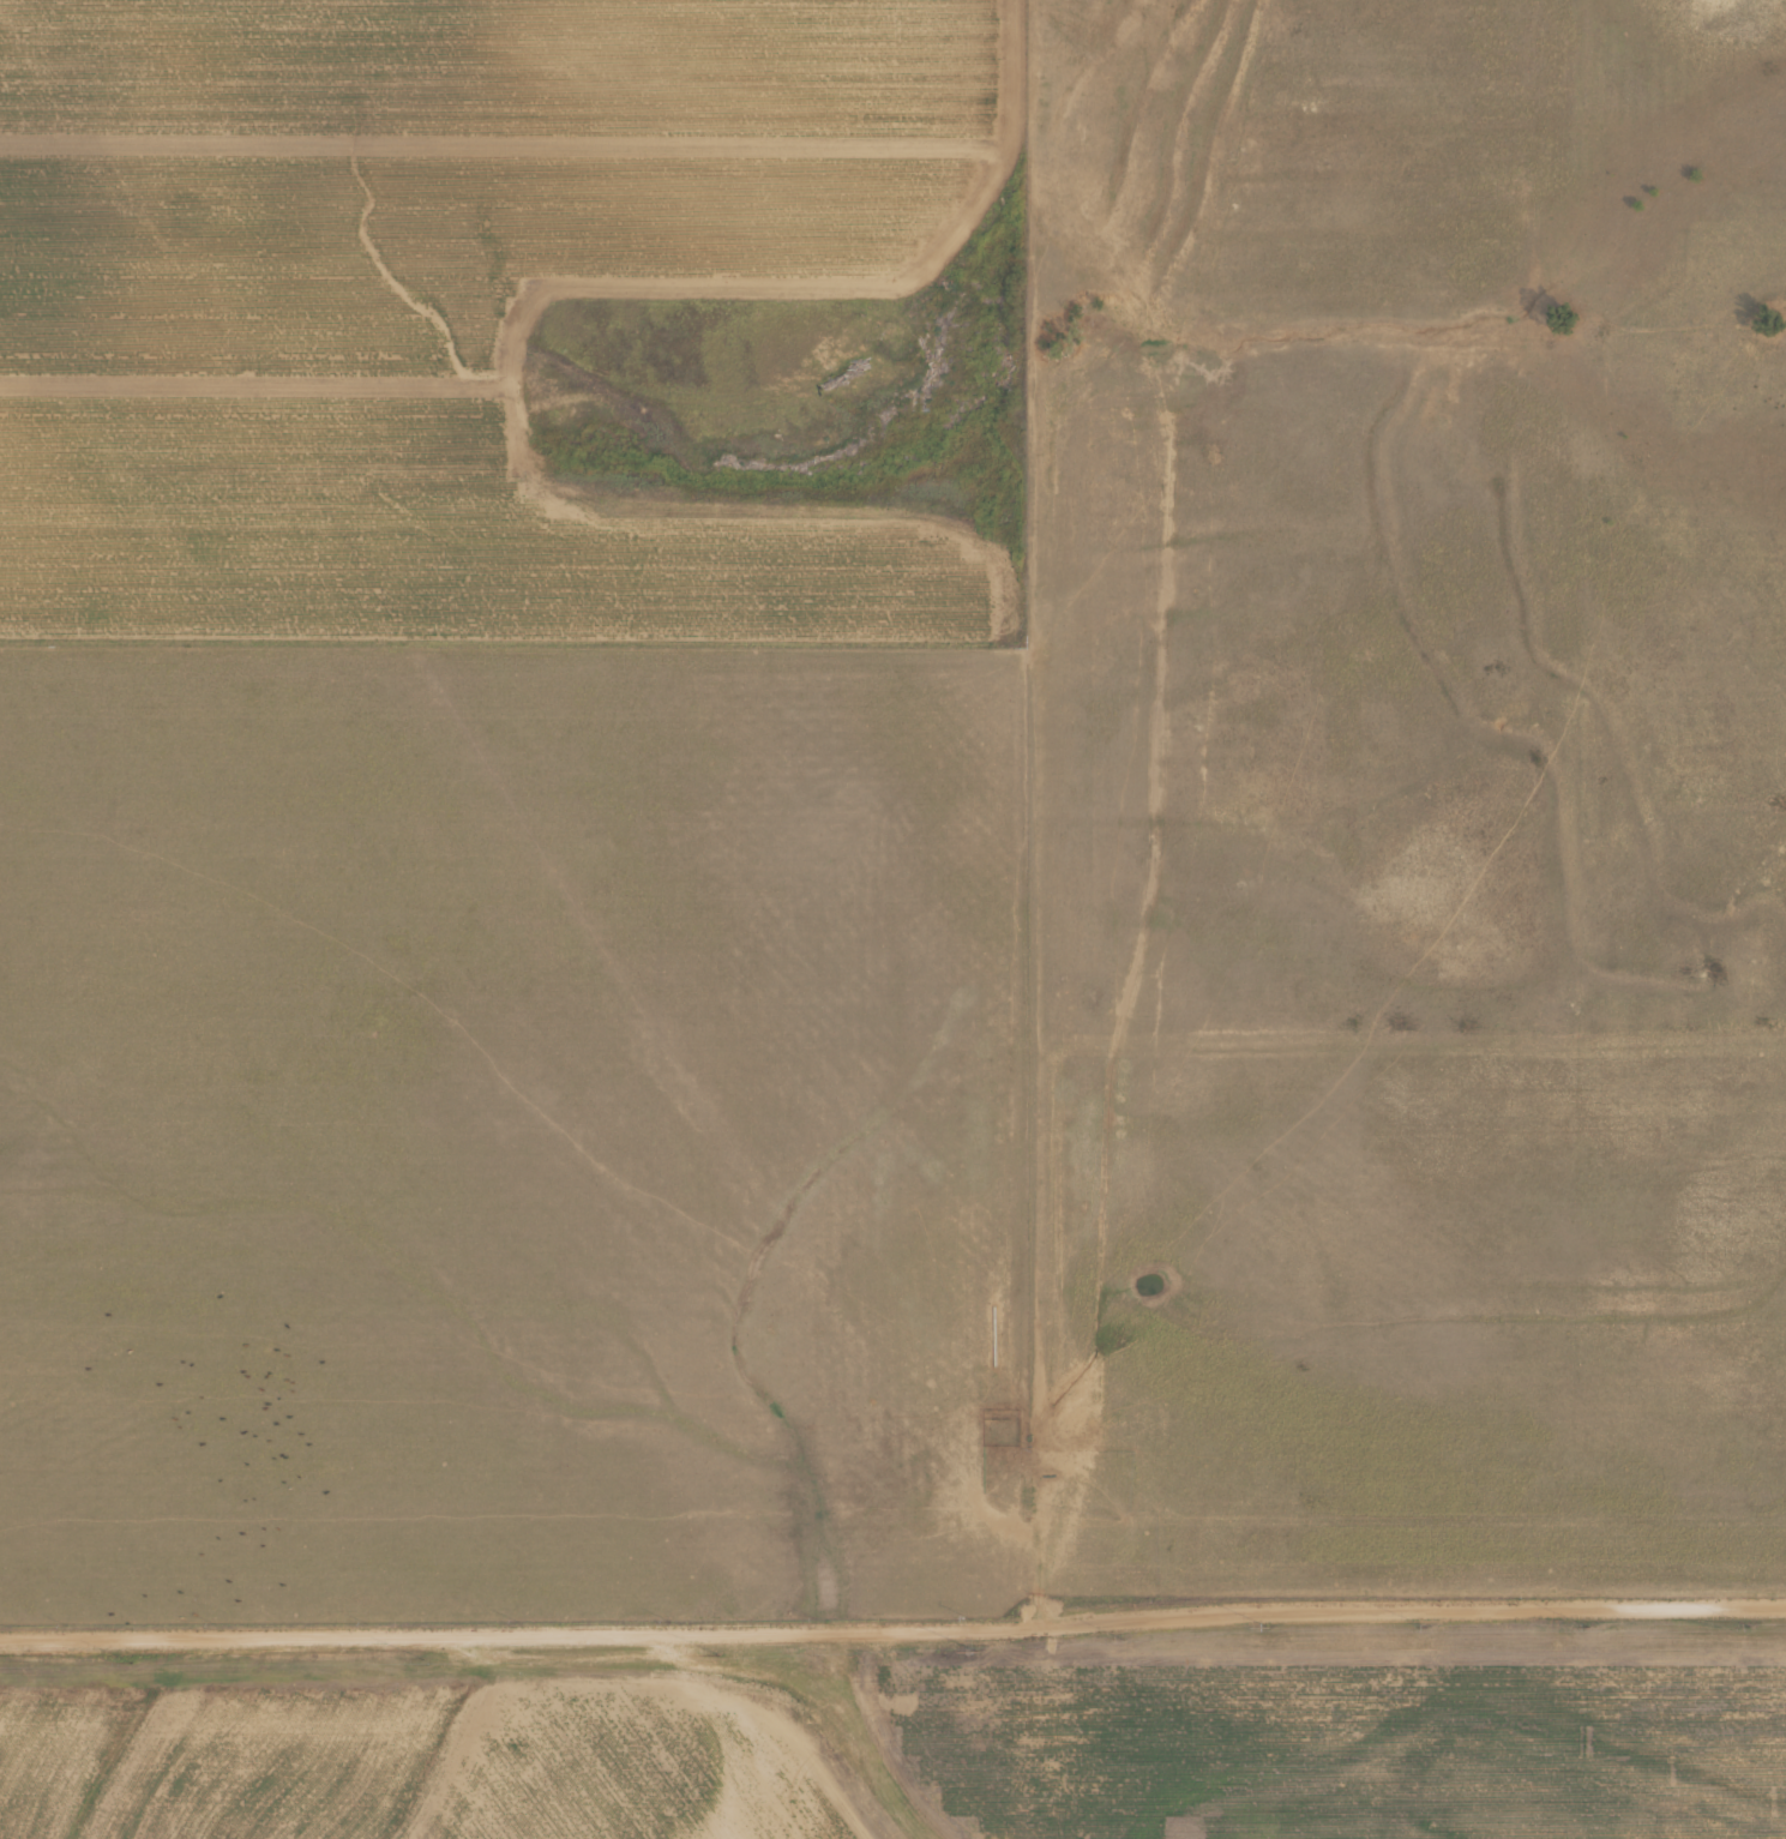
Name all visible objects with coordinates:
road: (892, 1633)

